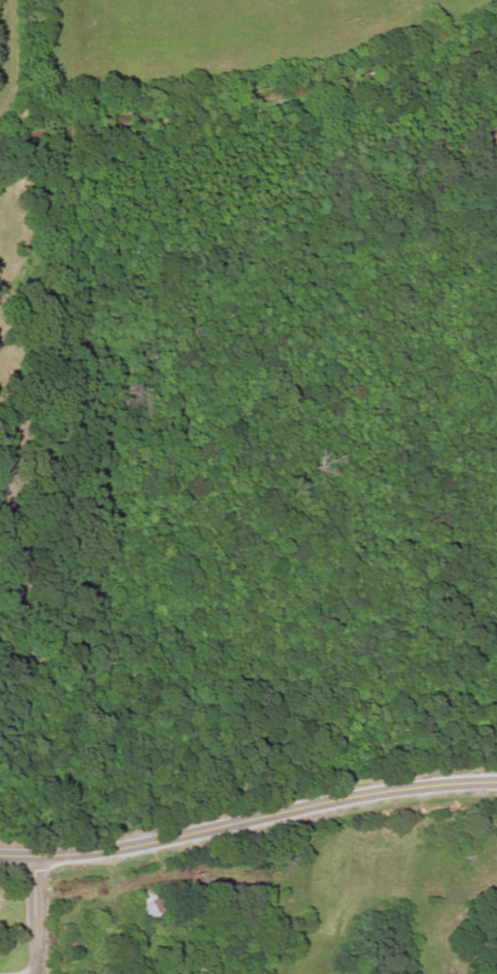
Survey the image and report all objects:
building: (33, 548)
road: (248, 823)
building: (153, 903)
road: (30, 917)

